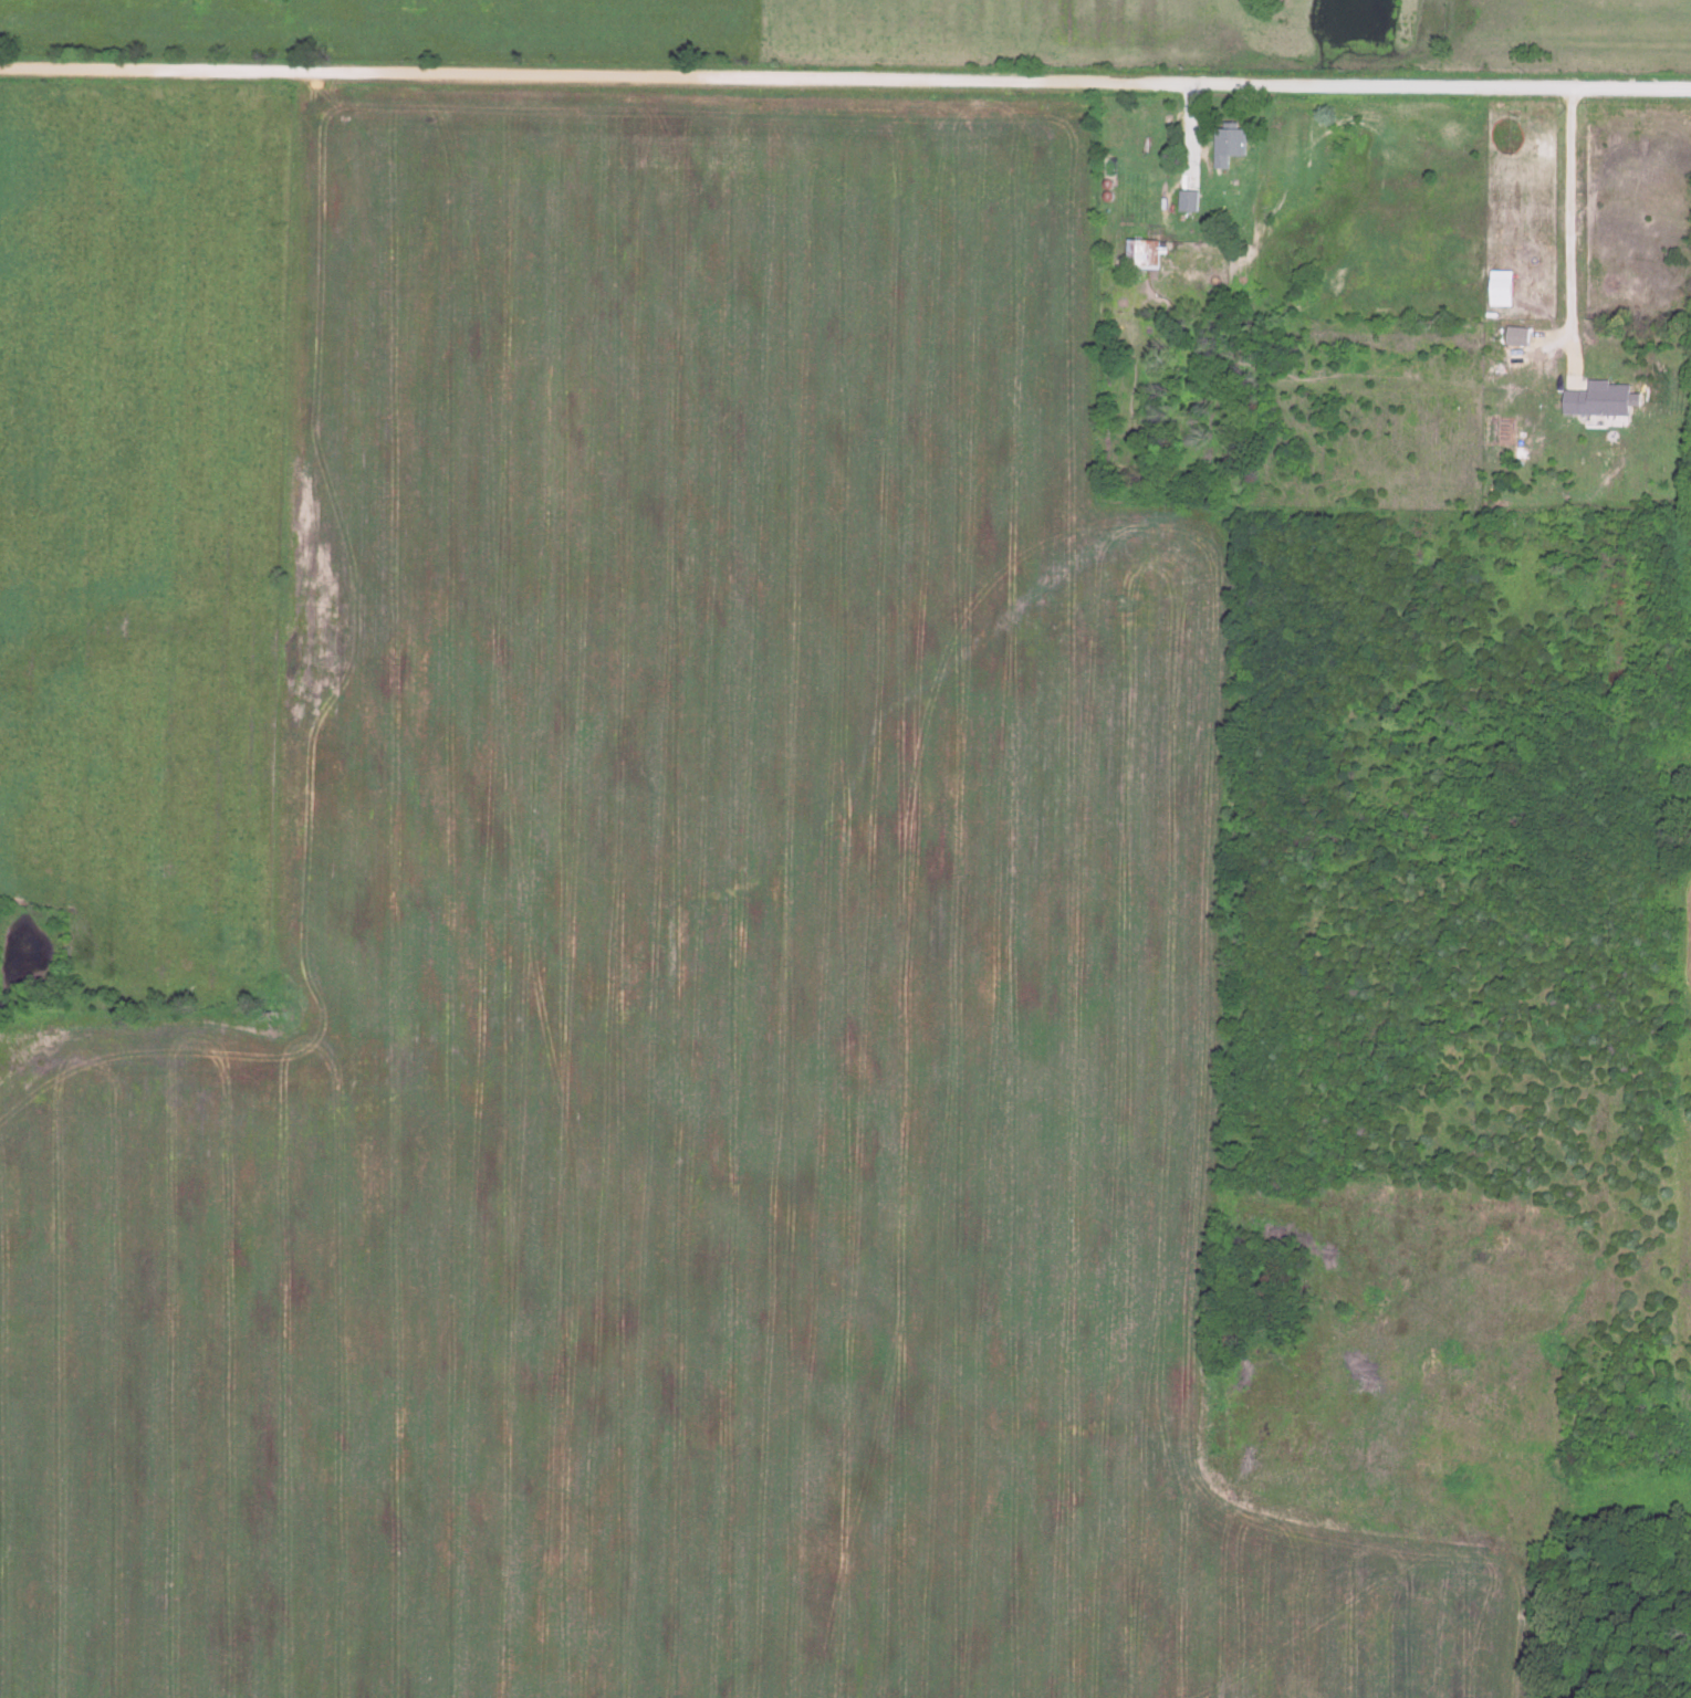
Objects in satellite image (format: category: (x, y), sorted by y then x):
road: (845, 84)
building: (1225, 147)
building: (1186, 202)
road: (1568, 221)
building: (1139, 255)

